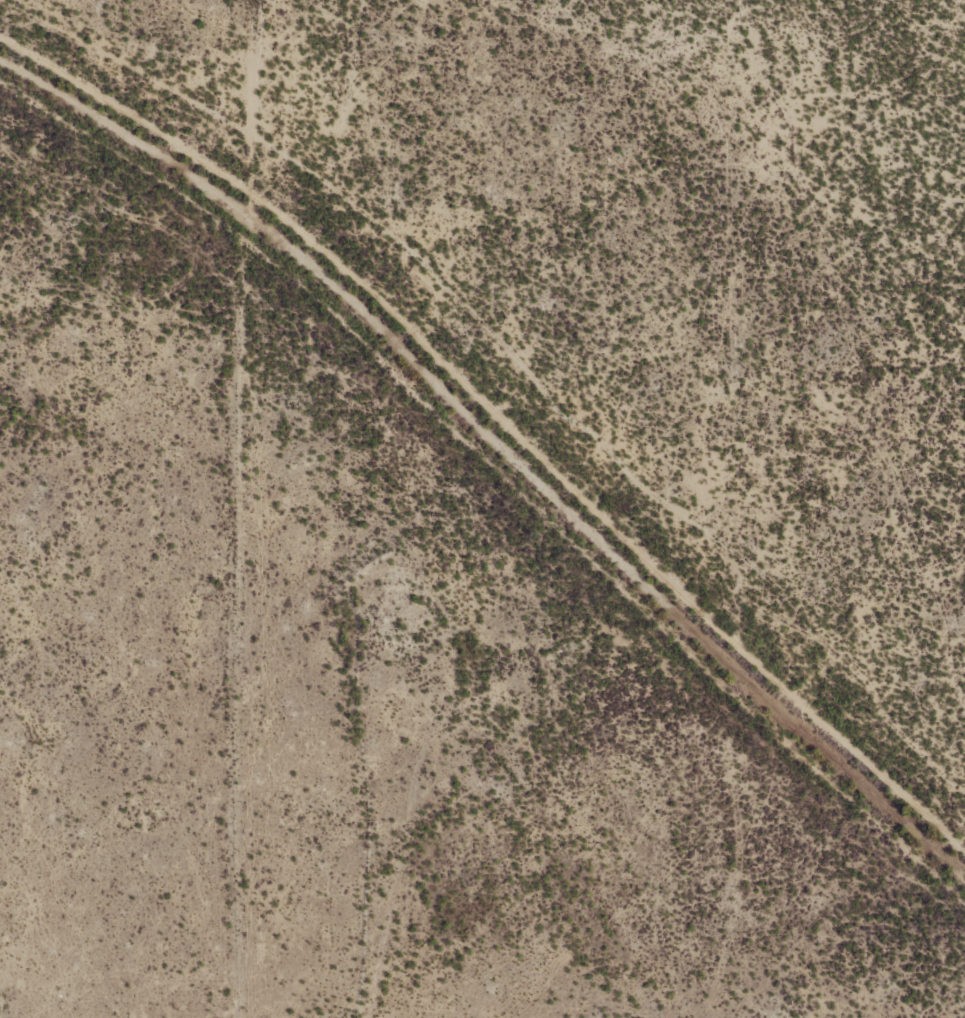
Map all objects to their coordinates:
road: (535, 377)
road: (479, 771)

